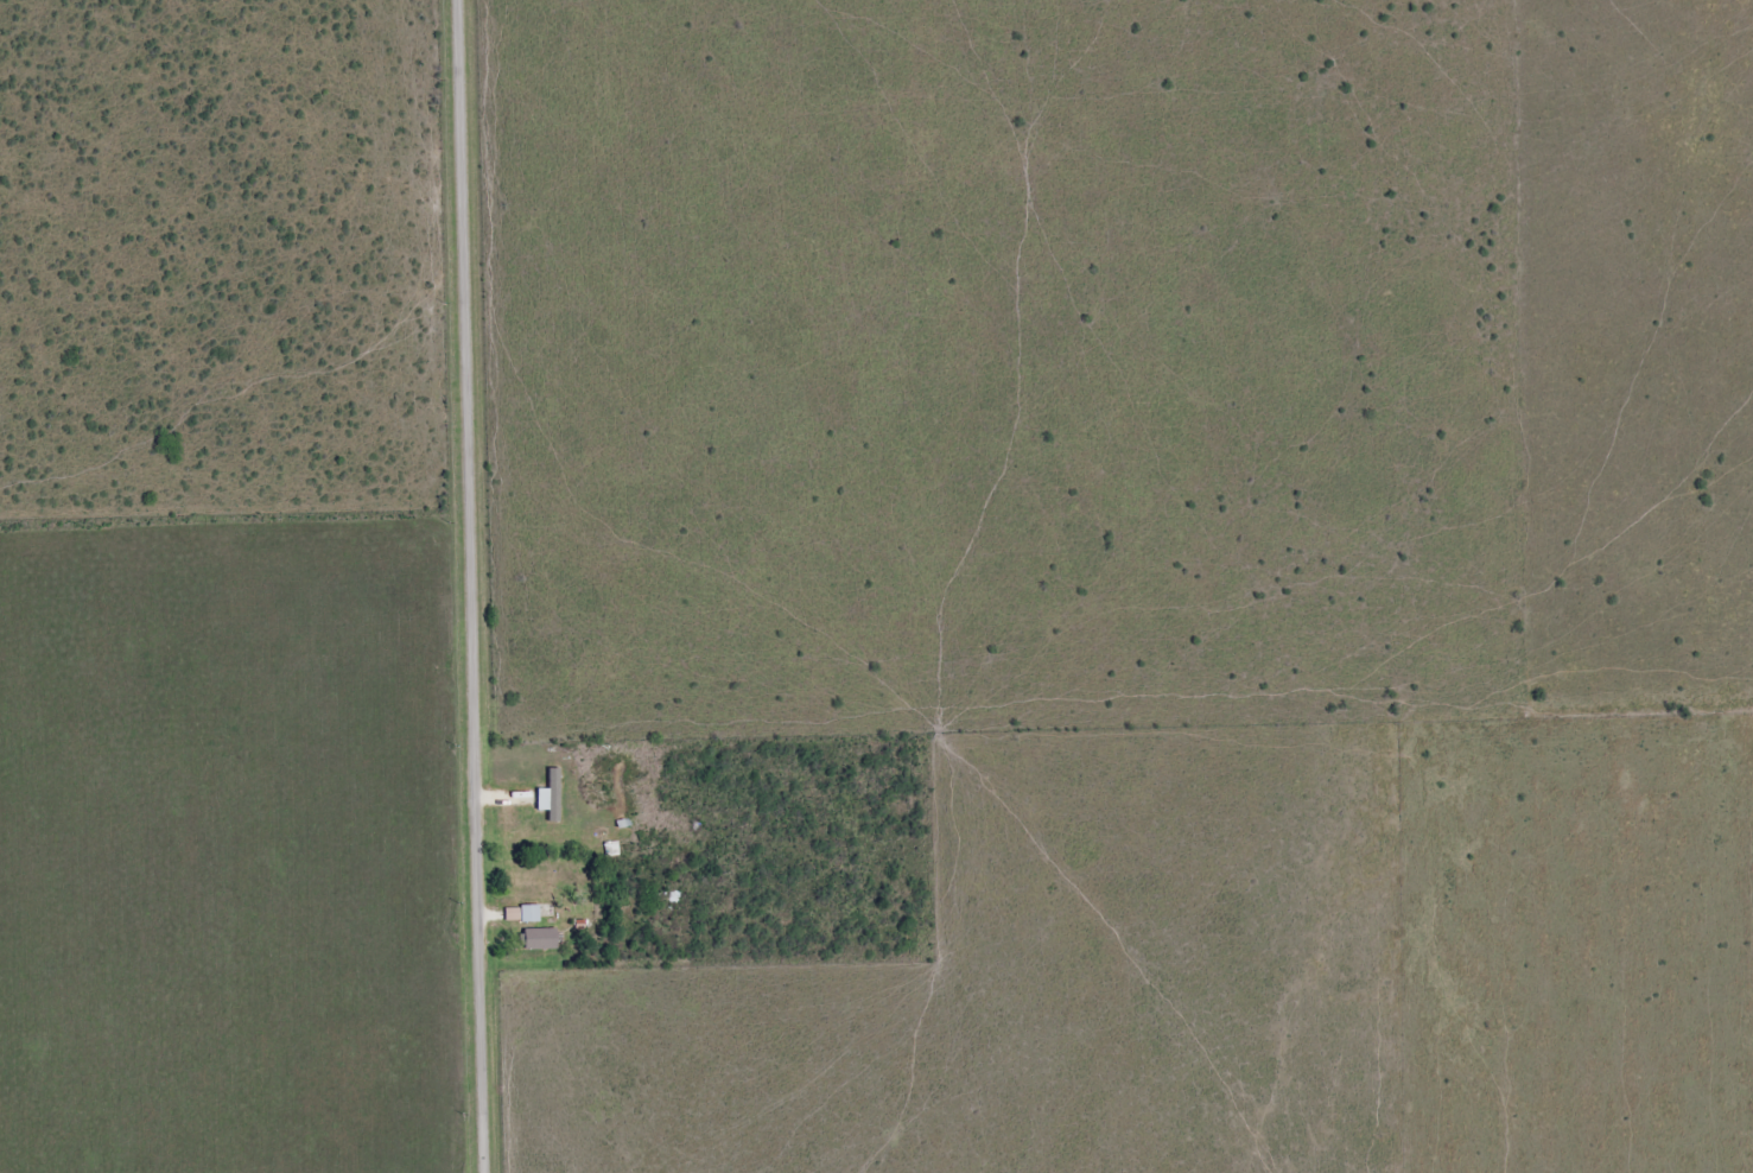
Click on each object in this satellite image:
road: (474, 585)
building: (550, 795)
building: (528, 913)
building: (510, 914)
building: (539, 939)

